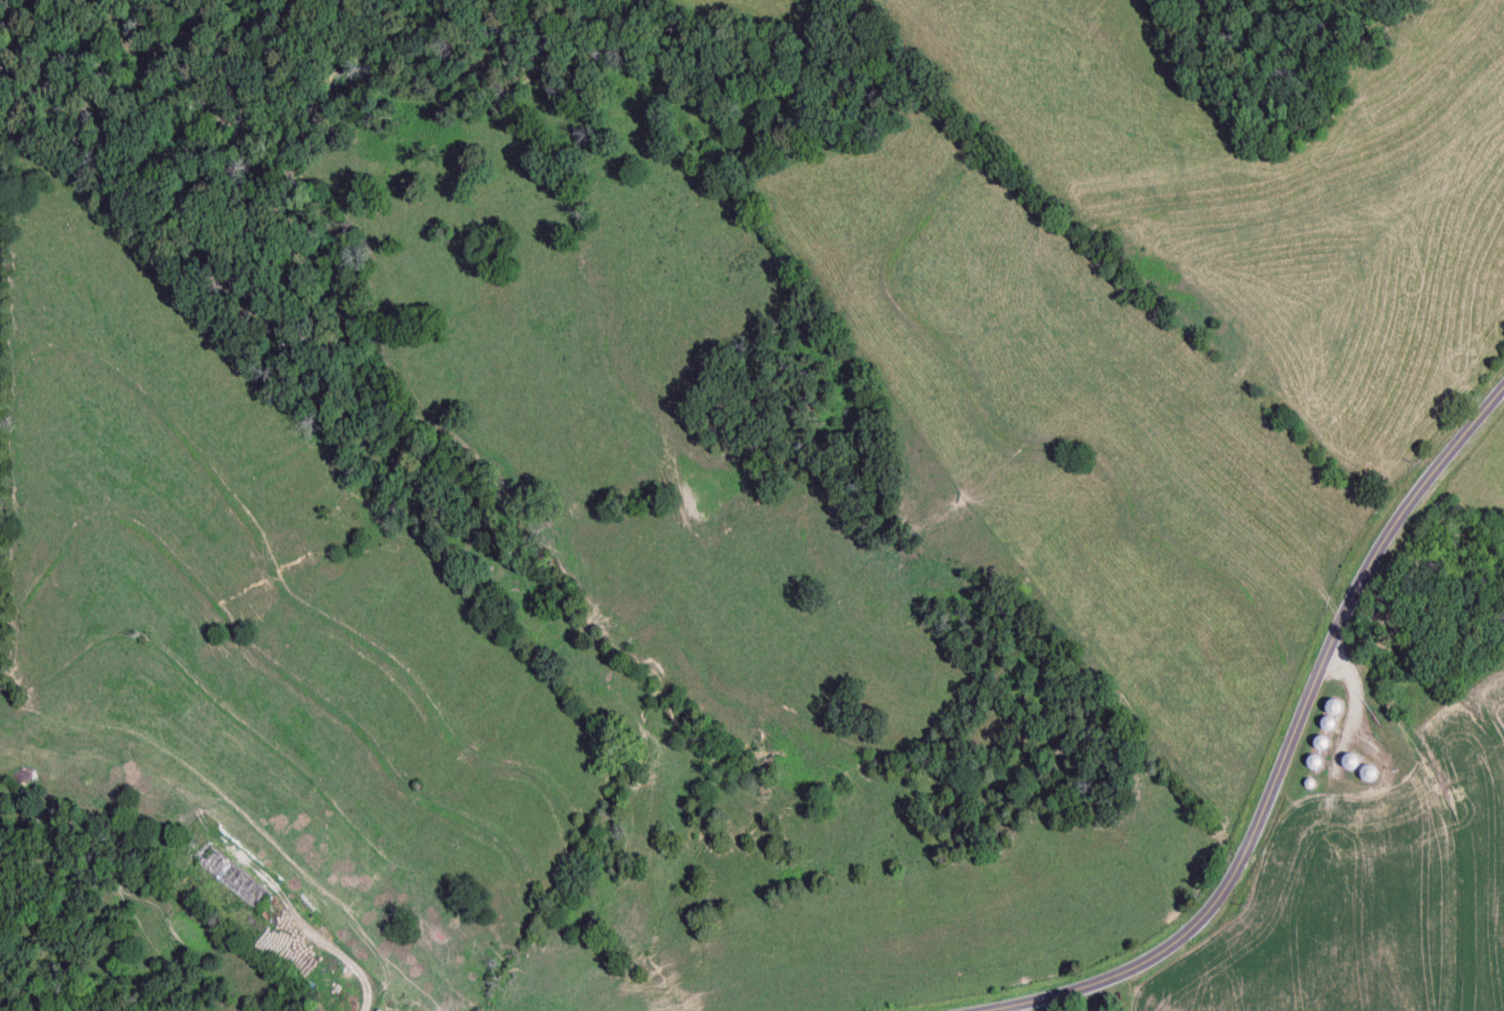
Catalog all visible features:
road: (913, 540)
building: (1331, 718)
building: (1354, 764)
building: (1315, 765)
road: (1293, 777)
building: (235, 879)
building: (381, 1010)

